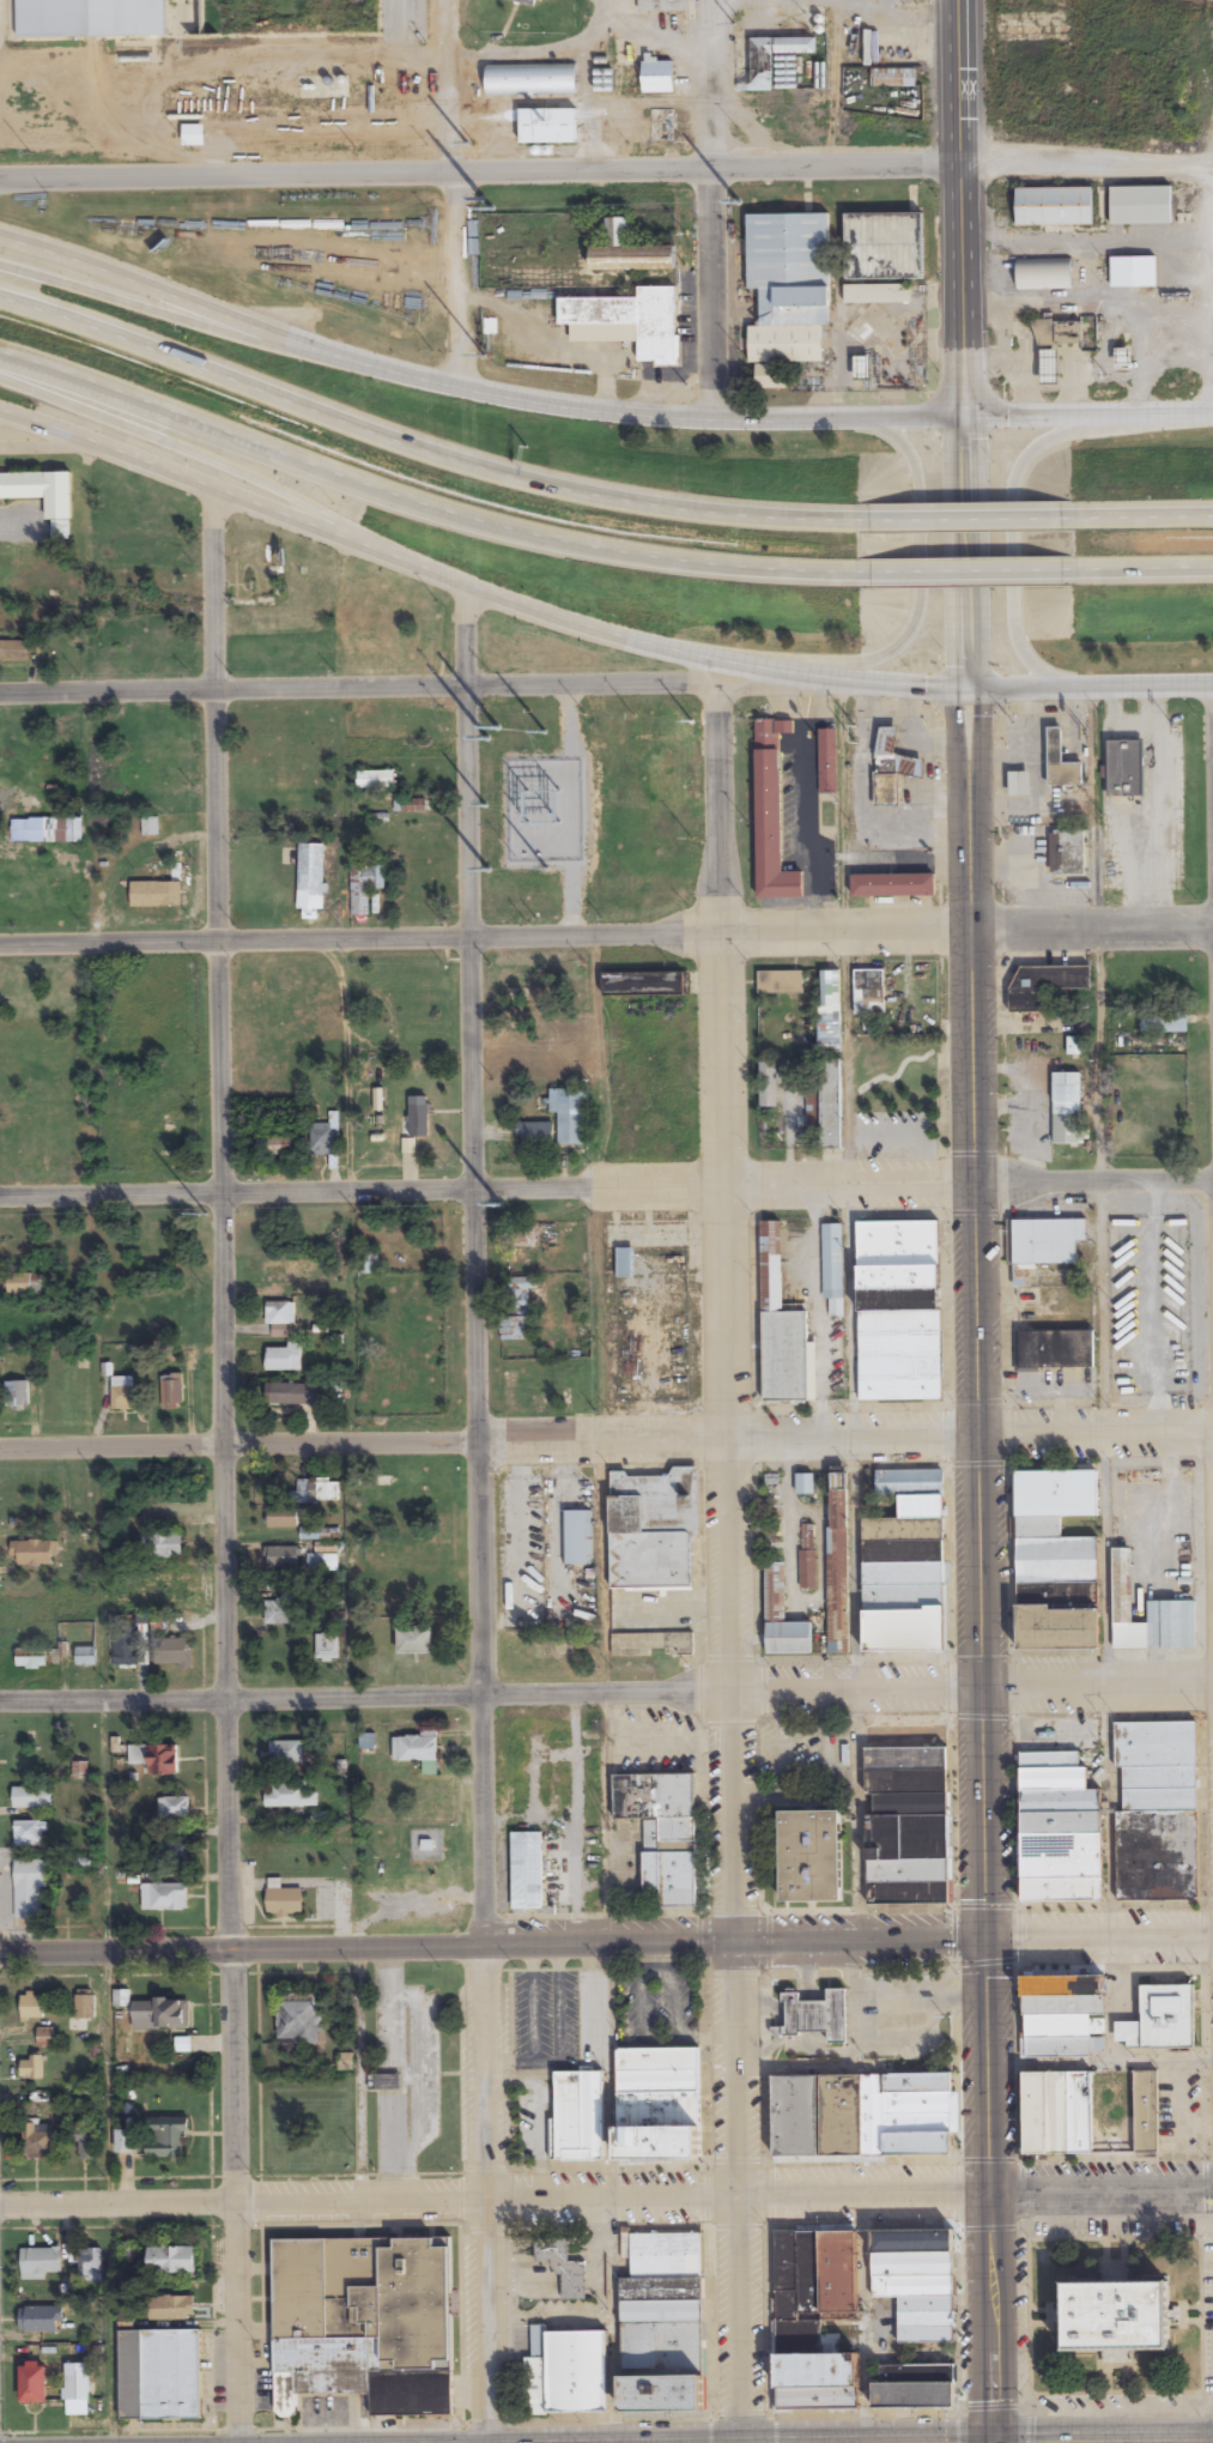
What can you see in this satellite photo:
building: (524, 2)
building: (662, 6)
building: (363, 17)
power tower: (734, 20)
building: (768, 61)
building: (657, 77)
building: (893, 79)
building: (530, 81)
building: (604, 81)
building: (661, 126)
building: (547, 127)
building: (193, 135)
power tower: (467, 141)
road: (606, 164)
road: (453, 195)
power tower: (486, 201)
power tower: (739, 202)
building: (1140, 206)
road: (957, 207)
building: (1054, 207)
road: (710, 210)
building: (881, 247)
building: (629, 253)
building: (1133, 272)
building: (1043, 274)
building: (788, 286)
building: (877, 295)
road: (170, 313)
building: (632, 320)
building: (1059, 333)
power tower: (483, 352)
building: (1049, 368)
road: (471, 392)
road: (1087, 411)
road: (416, 450)
road: (217, 462)
building: (43, 483)
road: (423, 500)
road: (1142, 516)
road: (964, 518)
road: (1012, 539)
road: (964, 552)
road: (918, 558)
road: (1142, 570)
road: (964, 575)
road: (474, 588)
building: (13, 652)
road: (410, 685)
road: (1090, 687)
power tower: (546, 728)
power tower: (490, 730)
building: (829, 749)
building: (1061, 755)
gas station: (1061, 755)
building: (1123, 769)
building: (376, 780)
building: (1018, 784)
power tower: (484, 804)
building: (772, 804)
power substation: (545, 808)
building: (150, 827)
building: (69, 832)
building: (1067, 853)
power tower: (489, 866)
power tower: (548, 867)
building: (894, 876)
building: (311, 883)
building: (368, 889)
building: (156, 895)
road: (606, 935)
road: (968, 935)
building: (780, 982)
building: (647, 984)
building: (1044, 985)
building: (868, 992)
building: (515, 1012)
building: (829, 1012)
building: (1164, 1023)
building: (1074, 1047)
building: (769, 1086)
building: (153, 1096)
building: (114, 1102)
building: (830, 1105)
building: (1067, 1109)
building: (418, 1115)
building: (566, 1118)
building: (535, 1135)
building: (172, 1138)
building: (323, 1139)
building: (273, 1147)
road: (606, 1183)
power tower: (501, 1203)
power tower: (207, 1213)
building: (1045, 1253)
building: (624, 1262)
building: (832, 1268)
building: (25, 1283)
building: (517, 1312)
building: (280, 1313)
building: (896, 1313)
building: (782, 1330)
building: (1053, 1348)
building: (284, 1357)
building: (171, 1391)
building: (121, 1393)
building: (17, 1395)
building: (296, 1395)
road: (606, 1439)
road: (225, 1467)
building: (805, 1483)
building: (319, 1490)
road: (478, 1514)
building: (281, 1518)
building: (653, 1531)
building: (311, 1534)
building: (577, 1537)
road: (728, 1540)
building: (163, 1546)
building: (32, 1553)
building: (807, 1555)
building: (902, 1556)
building: (281, 1558)
building: (1055, 1558)
building: (322, 1562)
building: (838, 1570)
building: (169, 1590)
building: (285, 1608)
building: (1147, 1614)
building: (782, 1617)
building: (414, 1640)
building: (327, 1647)
building: (126, 1649)
building: (172, 1651)
building: (86, 1656)
building: (31, 1658)
road: (606, 1692)
building: (418, 1749)
building: (286, 1752)
building: (163, 1760)
building: (289, 1795)
building: (31, 1797)
building: (1154, 1807)
building: (172, 1808)
road: (980, 1812)
building: (908, 1814)
building: (1060, 1821)
building: (662, 1831)
building: (30, 1834)
building: (175, 1852)
building: (811, 1856)
building: (527, 1870)
building: (29, 1889)
building: (164, 1897)
building: (284, 1901)
traffic signals: (982, 1937)
road: (606, 1943)
building: (85, 2006)
building: (32, 2008)
building: (160, 2015)
building: (1061, 2015)
building: (817, 2016)
building: (1162, 2019)
building: (299, 2022)
building: (46, 2038)
building: (31, 2068)
building: (861, 2114)
building: (577, 2116)
building: (1092, 2116)
building: (165, 2137)
building: (36, 2141)
building: (86, 2141)
building: (125, 2141)
building: (657, 2142)
road: (606, 2196)
building: (171, 2261)
building: (41, 2262)
building: (912, 2263)
building: (89, 2266)
building: (562, 2266)
building: (171, 2308)
building: (659, 2316)
building: (1117, 2318)
building: (41, 2320)
building: (788, 2321)
building: (926, 2321)
building: (364, 2323)
building: (575, 2370)
building: (159, 2375)
building: (34, 2383)
building: (914, 2385)
road: (1035, 2441)
traffic signals: (989, 2442)

